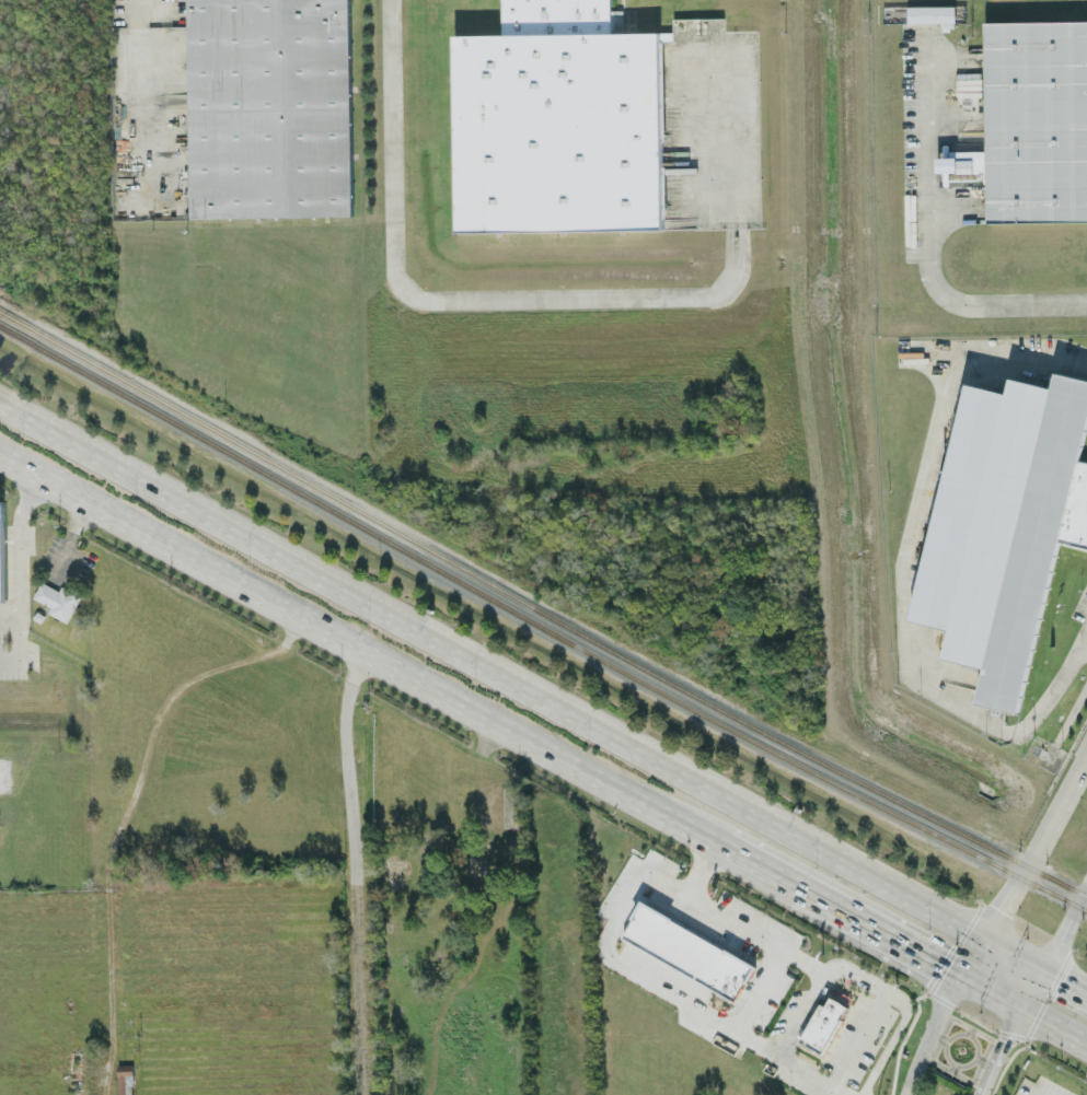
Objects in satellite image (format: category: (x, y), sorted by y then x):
road: (953, 55)
road: (135, 95)
building: (270, 108)
building: (558, 121)
building: (1031, 123)
road: (956, 202)
road: (927, 224)
road: (542, 299)
building: (1005, 525)
road: (19, 540)
building: (1, 554)
road: (906, 566)
building: (57, 599)
railway: (540, 610)
road: (9, 617)
railway: (540, 626)
road: (358, 643)
road: (19, 646)
road: (522, 686)
road: (1067, 711)
road: (1080, 766)
road: (132, 812)
road: (759, 865)
road: (354, 869)
road: (702, 872)
road: (1017, 878)
traffic signals: (998, 907)
road: (733, 924)
road: (1065, 924)
road: (878, 932)
building: (689, 951)
traffic signals: (935, 964)
traffic signals: (1061, 977)
road: (1066, 979)
road: (868, 985)
road: (1032, 991)
road: (758, 993)
road: (987, 994)
road: (682, 1002)
road: (796, 1017)
building: (823, 1023)
road: (1053, 1030)
road: (926, 1034)
road: (855, 1041)
traffic signals: (1003, 1041)
road: (996, 1052)
road: (881, 1055)

